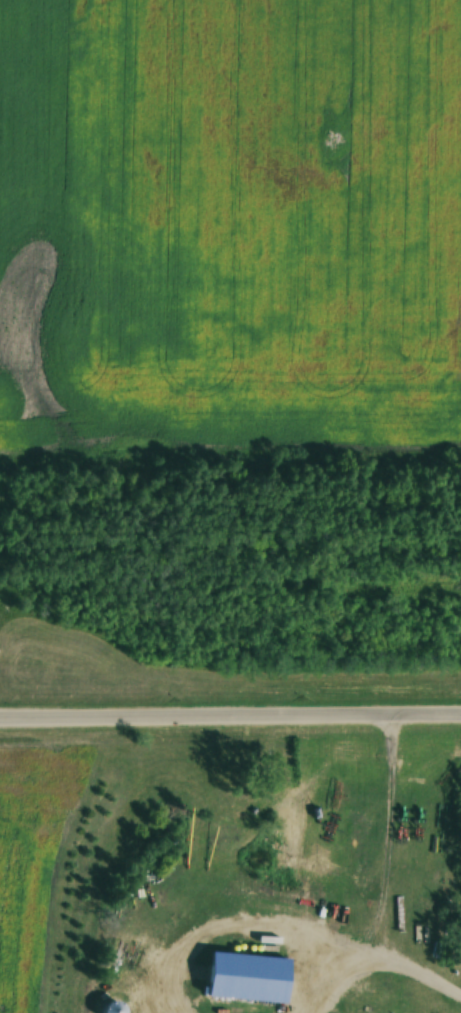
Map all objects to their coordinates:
road: (230, 715)
building: (368, 886)
road: (404, 955)
building: (248, 977)

